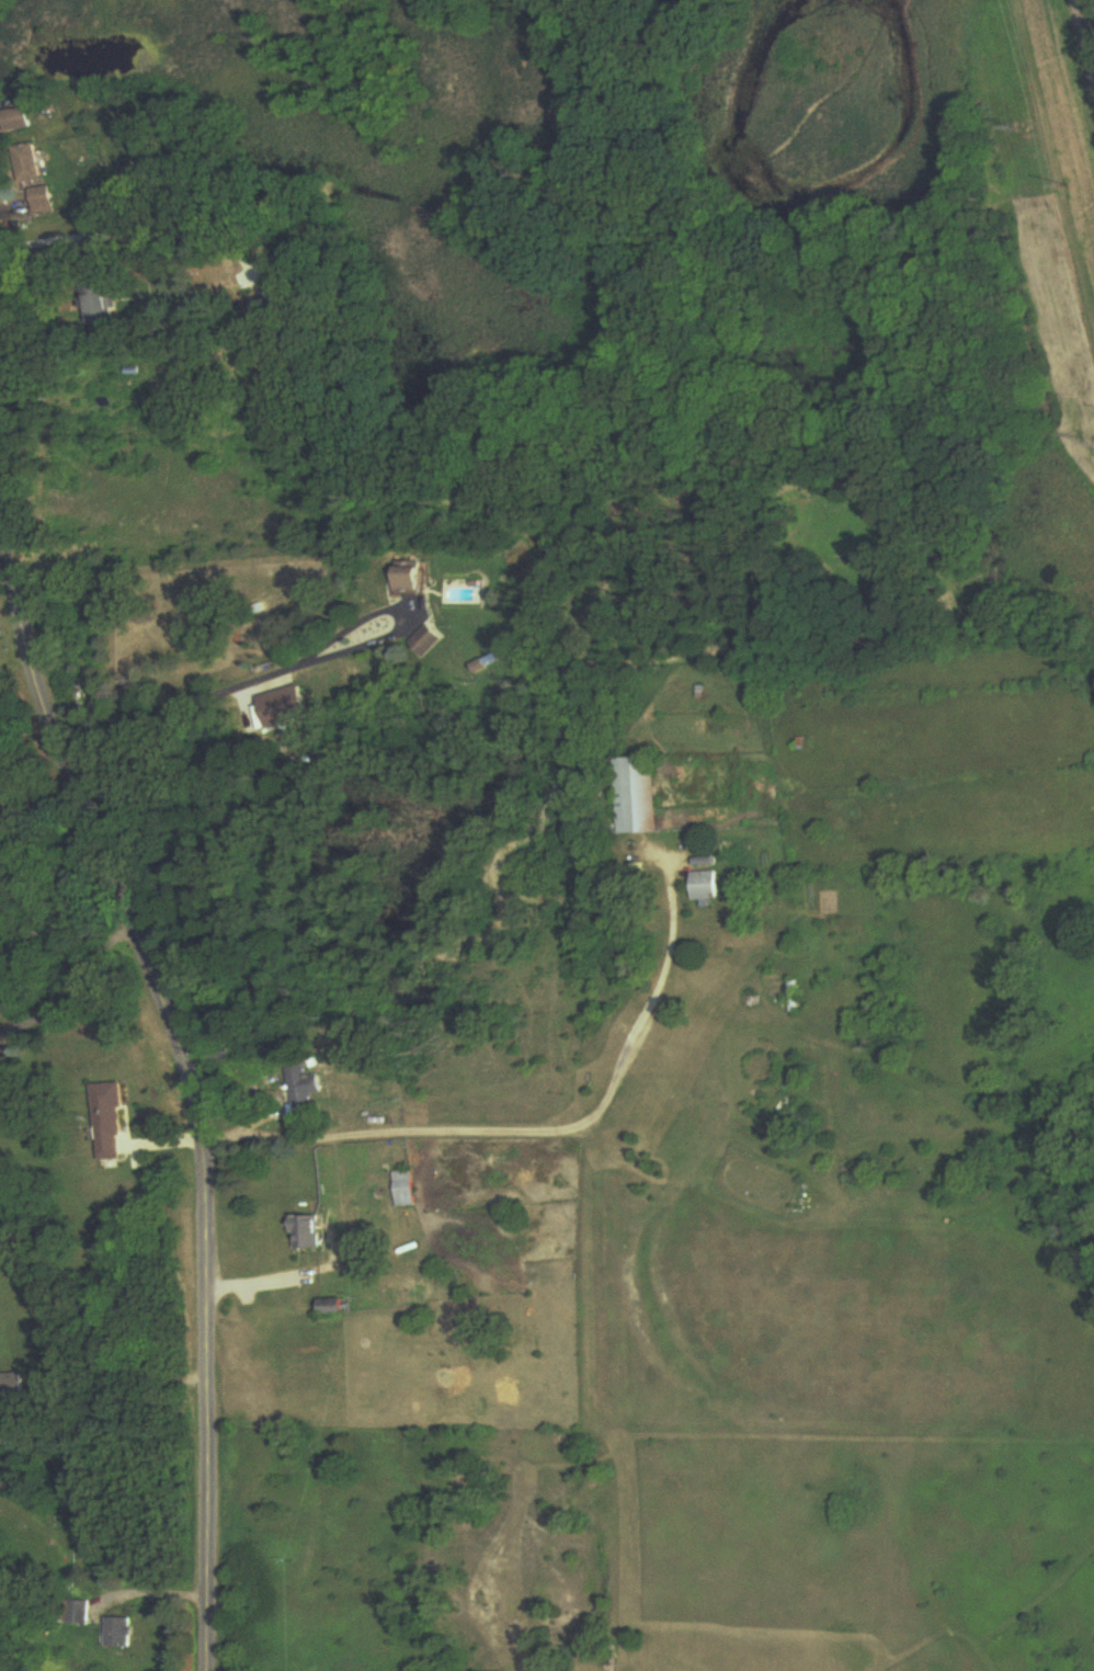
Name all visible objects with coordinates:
railway: (1085, 31)
building: (19, 121)
power tower: (1025, 134)
building: (32, 164)
building: (45, 200)
road: (139, 230)
building: (102, 305)
building: (272, 309)
building: (404, 577)
building: (423, 643)
road: (215, 677)
building: (635, 796)
road: (37, 807)
building: (709, 886)
road: (70, 976)
building: (793, 997)
road: (198, 1078)
building: (305, 1091)
road: (536, 1119)
building: (112, 1121)
building: (406, 1189)
building: (307, 1232)
road: (282, 1266)
building: (421, 1294)
building: (332, 1307)
building: (11, 1387)
building: (78, 1613)
building: (119, 1633)

